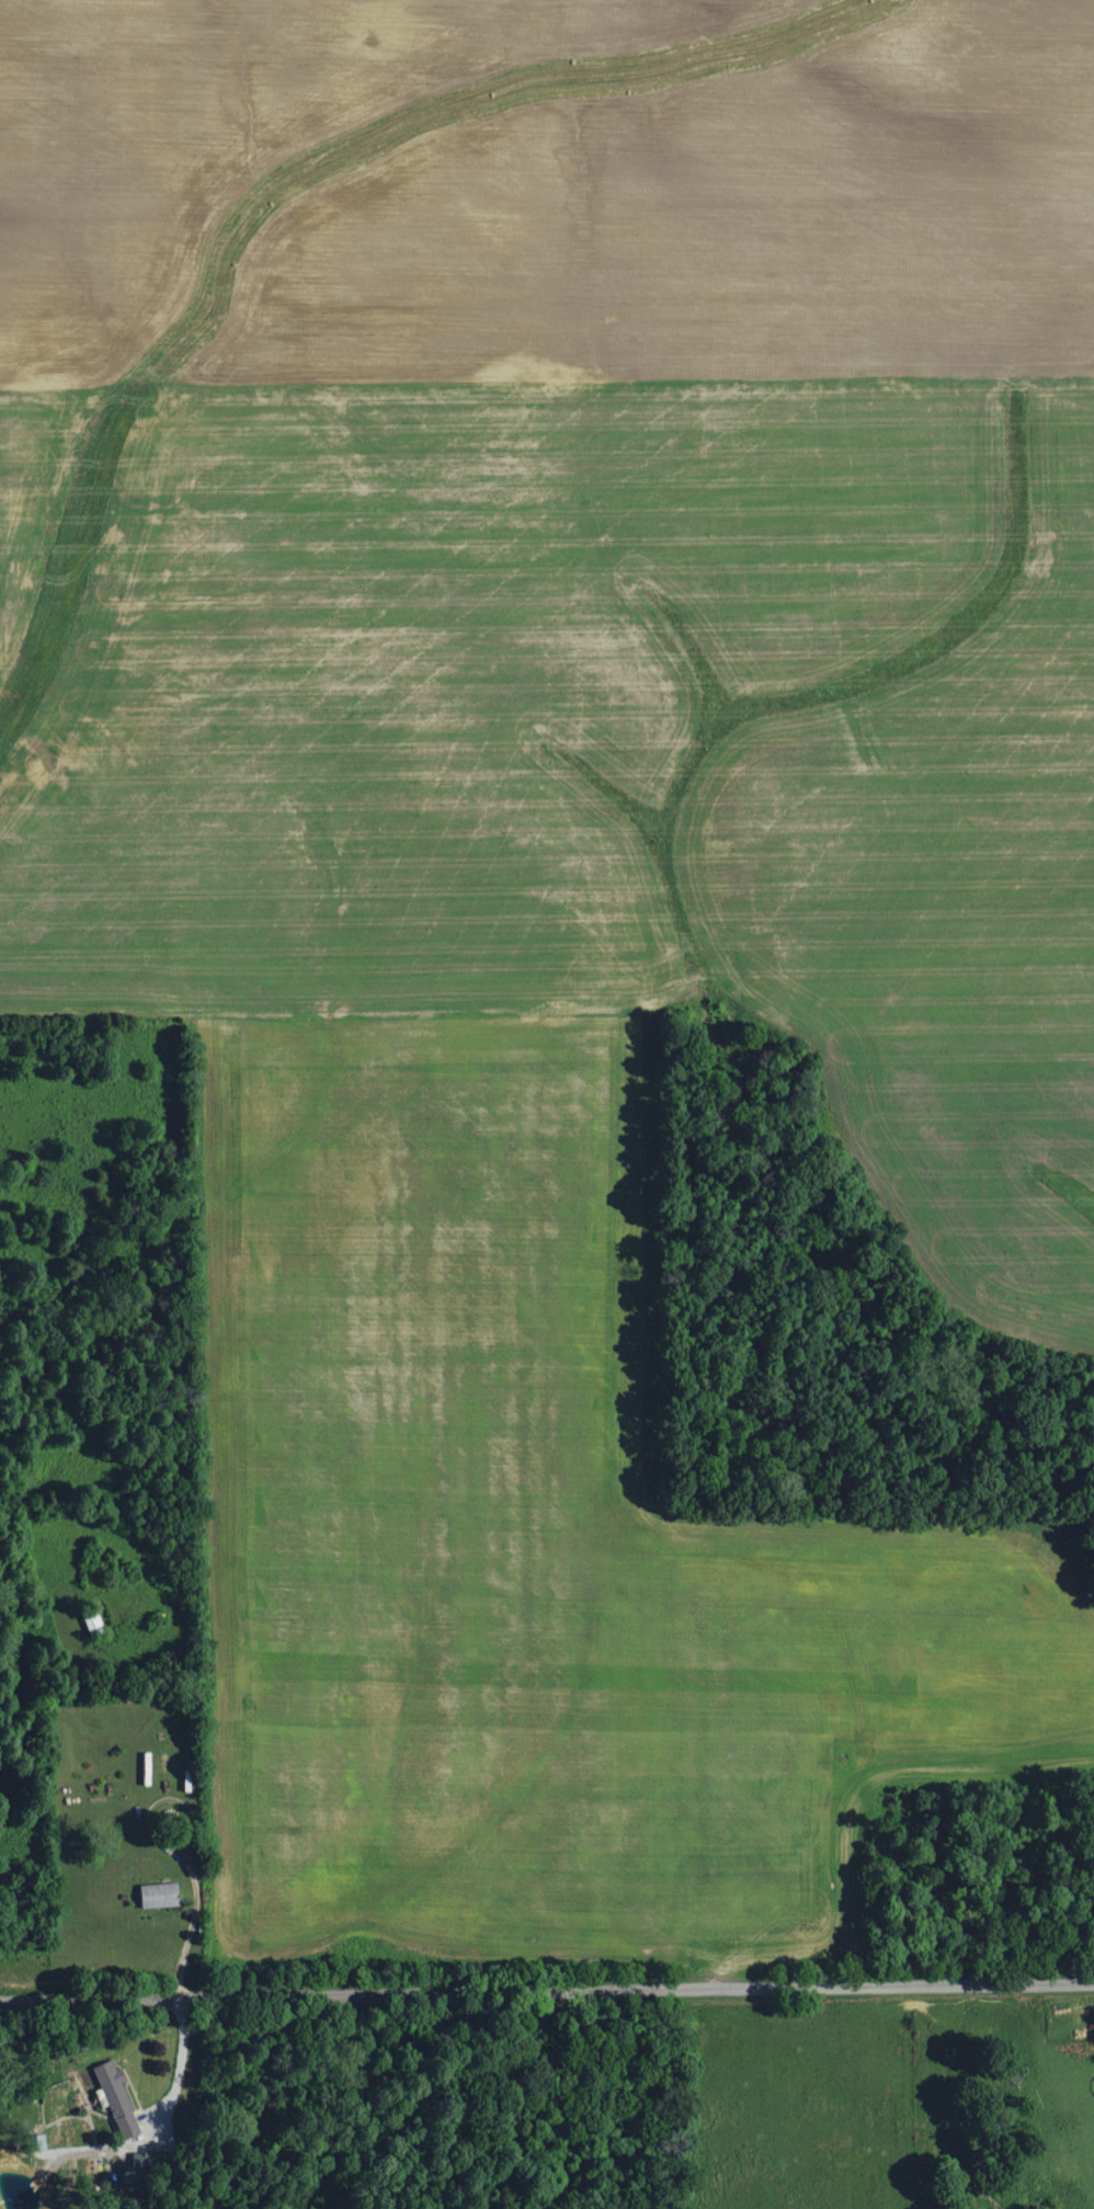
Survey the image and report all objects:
building: (162, 1895)
road: (546, 1992)
road: (179, 2074)
building: (117, 2098)
building: (143, 2168)

